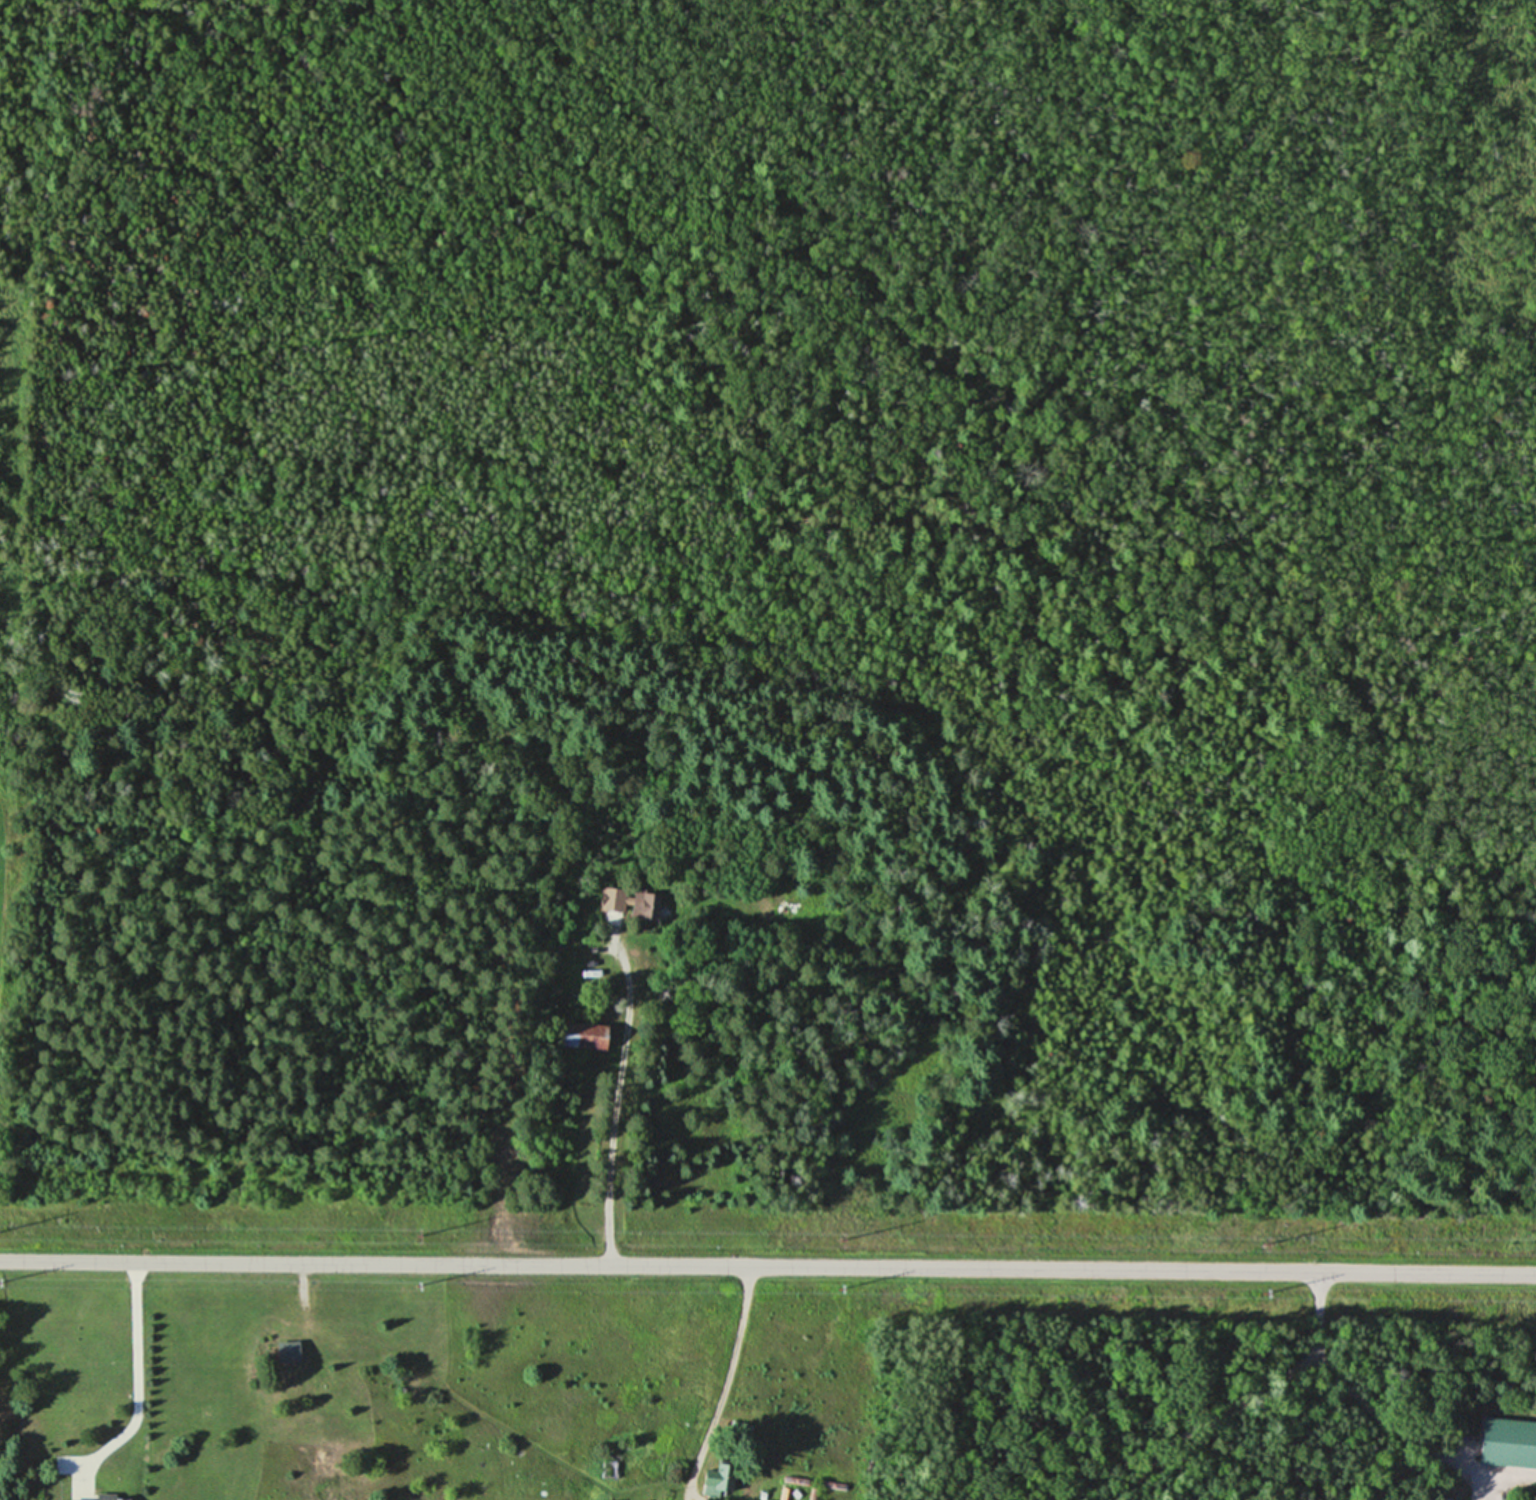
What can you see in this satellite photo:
building: (641, 905)
building: (583, 1035)
road: (613, 1129)
power tower: (416, 1234)
power tower: (843, 1236)
power tower: (1259, 1243)
road: (768, 1264)
power tower: (420, 1286)
power tower: (837, 1288)
power tower: (1257, 1291)
building: (292, 1350)
road: (137, 1375)
road: (725, 1377)
road: (1375, 1422)
building: (1508, 1442)
building: (715, 1479)
building: (100, 1497)

